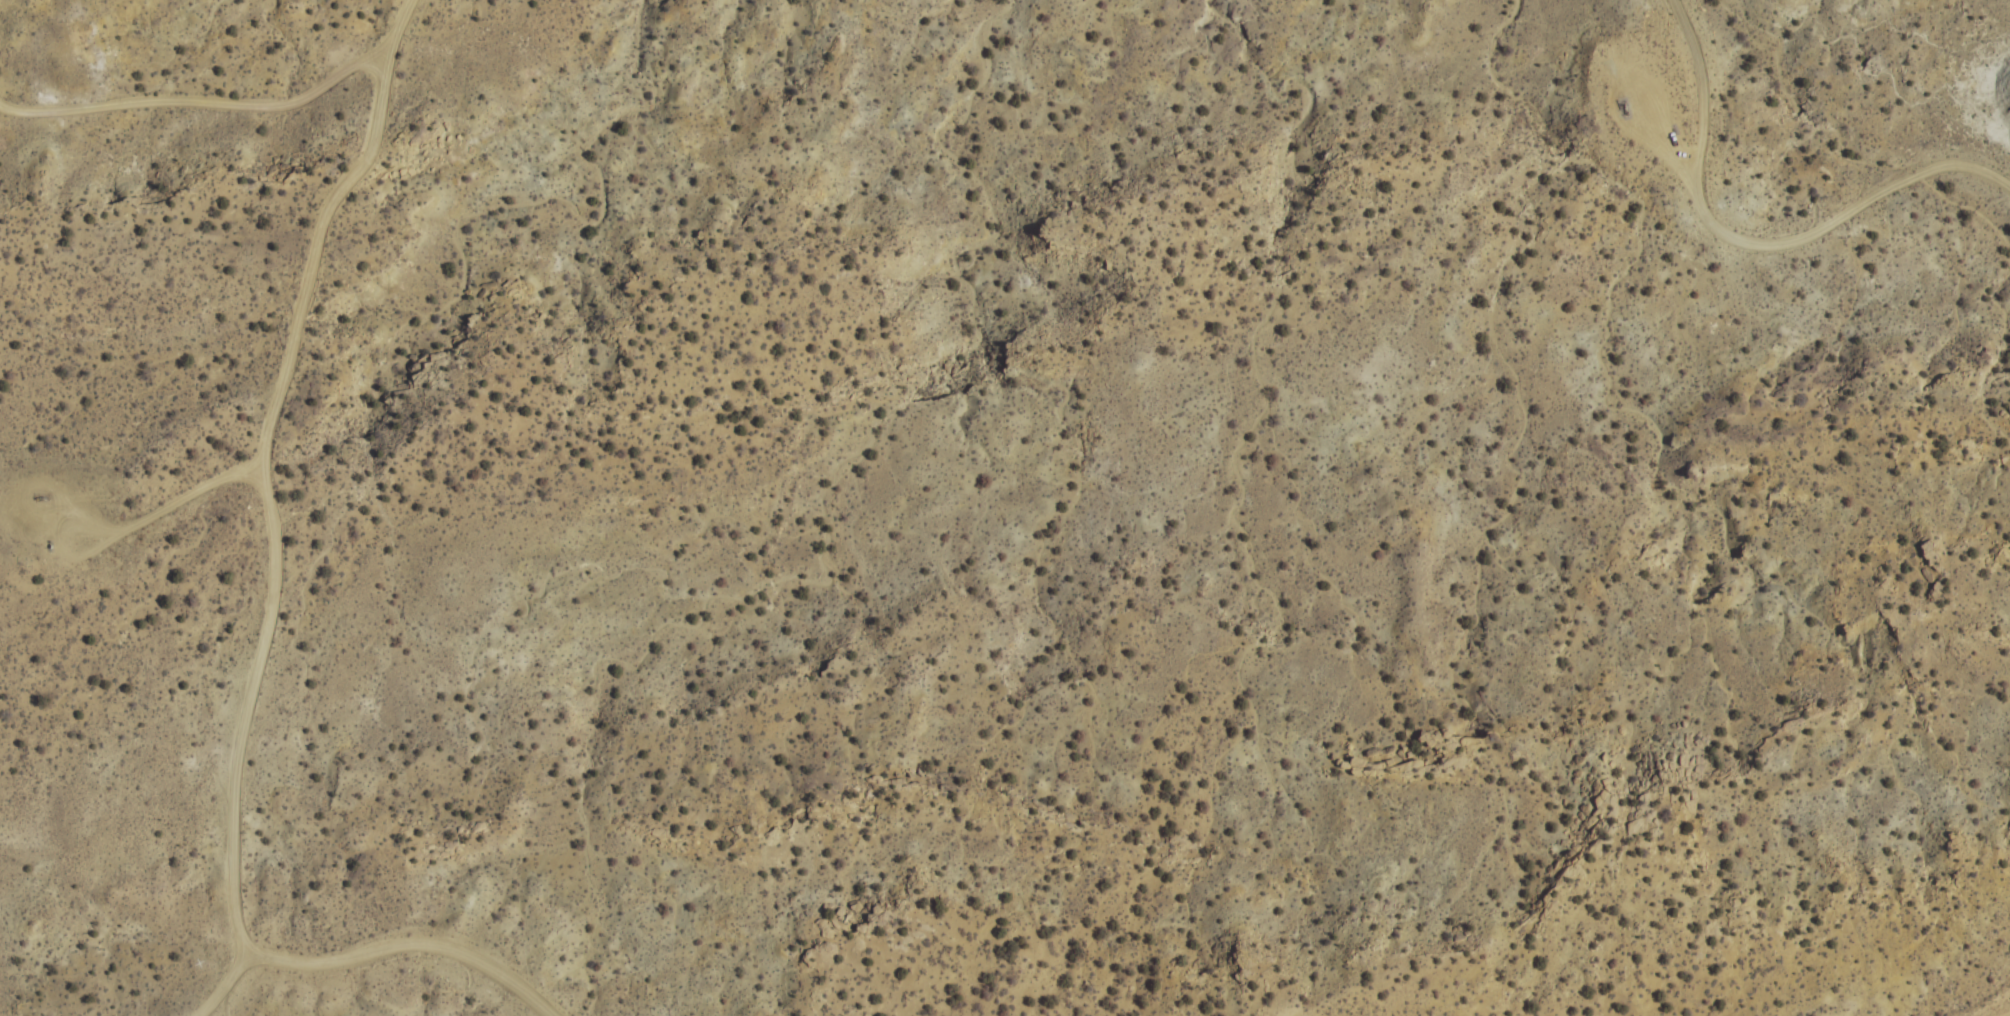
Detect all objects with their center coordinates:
road: (199, 91)
road: (272, 504)
road: (72, 532)
road: (416, 936)
road: (2005, 1013)

